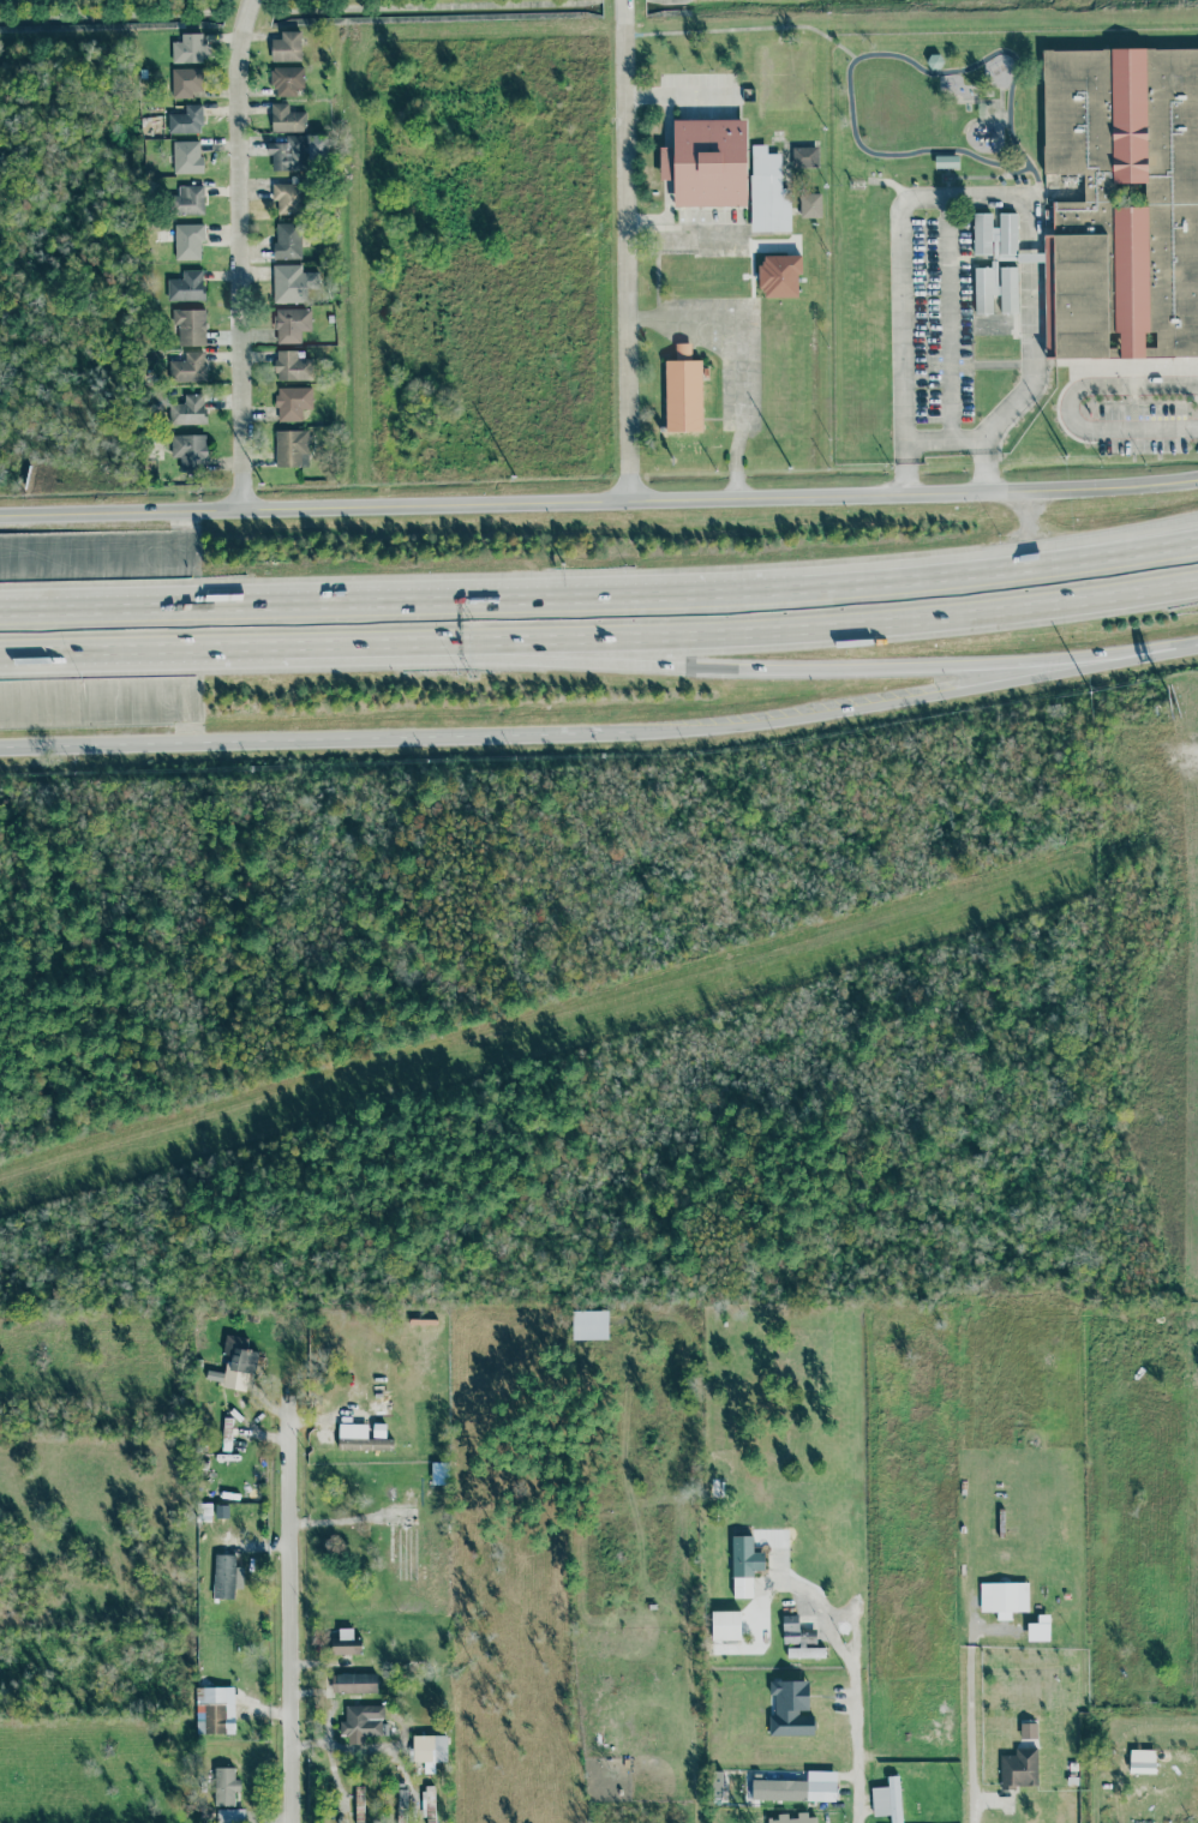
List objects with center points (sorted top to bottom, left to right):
building: (286, 47)
building: (188, 49)
building: (934, 61)
building: (287, 82)
building: (185, 83)
road: (678, 95)
building: (287, 119)
building: (186, 120)
building: (288, 154)
building: (187, 157)
building: (707, 163)
building: (768, 193)
road: (970, 197)
building: (288, 198)
building: (190, 200)
building: (1083, 203)
building: (810, 205)
road: (683, 230)
building: (982, 234)
building: (1007, 234)
building: (188, 241)
building: (287, 241)
road: (624, 251)
road: (239, 252)
building: (1006, 259)
building: (707, 269)
building: (779, 276)
building: (292, 283)
building: (187, 287)
building: (1008, 289)
building: (982, 290)
building: (1048, 295)
parking lot: (932, 319)
road: (948, 319)
building: (292, 325)
building: (190, 326)
road: (739, 337)
building: (292, 366)
building: (187, 368)
building: (683, 389)
building: (293, 403)
road: (1070, 408)
building: (188, 410)
parking lot: (1142, 428)
road: (942, 442)
building: (292, 449)
building: (190, 452)
road: (984, 476)
road: (905, 479)
road: (735, 480)
road: (1145, 486)
road: (545, 503)
road: (1025, 548)
road: (1025, 560)
road: (807, 581)
road: (727, 586)
road: (348, 608)
road: (775, 631)
road: (1187, 647)
road: (1149, 653)
road: (253, 654)
road: (317, 654)
road: (112, 656)
road: (1100, 658)
road: (1100, 662)
road: (714, 666)
road: (926, 695)
road: (731, 726)
road: (603, 734)
road: (257, 744)
building: (589, 1325)
building: (238, 1363)
building: (203, 1512)
building: (744, 1565)
building: (226, 1577)
building: (1004, 1599)
road: (289, 1615)
building: (725, 1625)
building: (790, 1630)
building: (1038, 1632)
building: (346, 1644)
building: (805, 1653)
building: (354, 1683)
road: (850, 1684)
road: (968, 1699)
road: (329, 1701)
building: (791, 1709)
building: (215, 1710)
building: (361, 1723)
road: (378, 1749)
building: (430, 1751)
building: (1142, 1768)
building: (1019, 1769)
building: (224, 1787)
building: (793, 1791)
building: (887, 1800)
building: (359, 1804)
building: (429, 1804)
building: (402, 1806)
road: (968, 1806)
building: (230, 1816)
building: (796, 1819)

